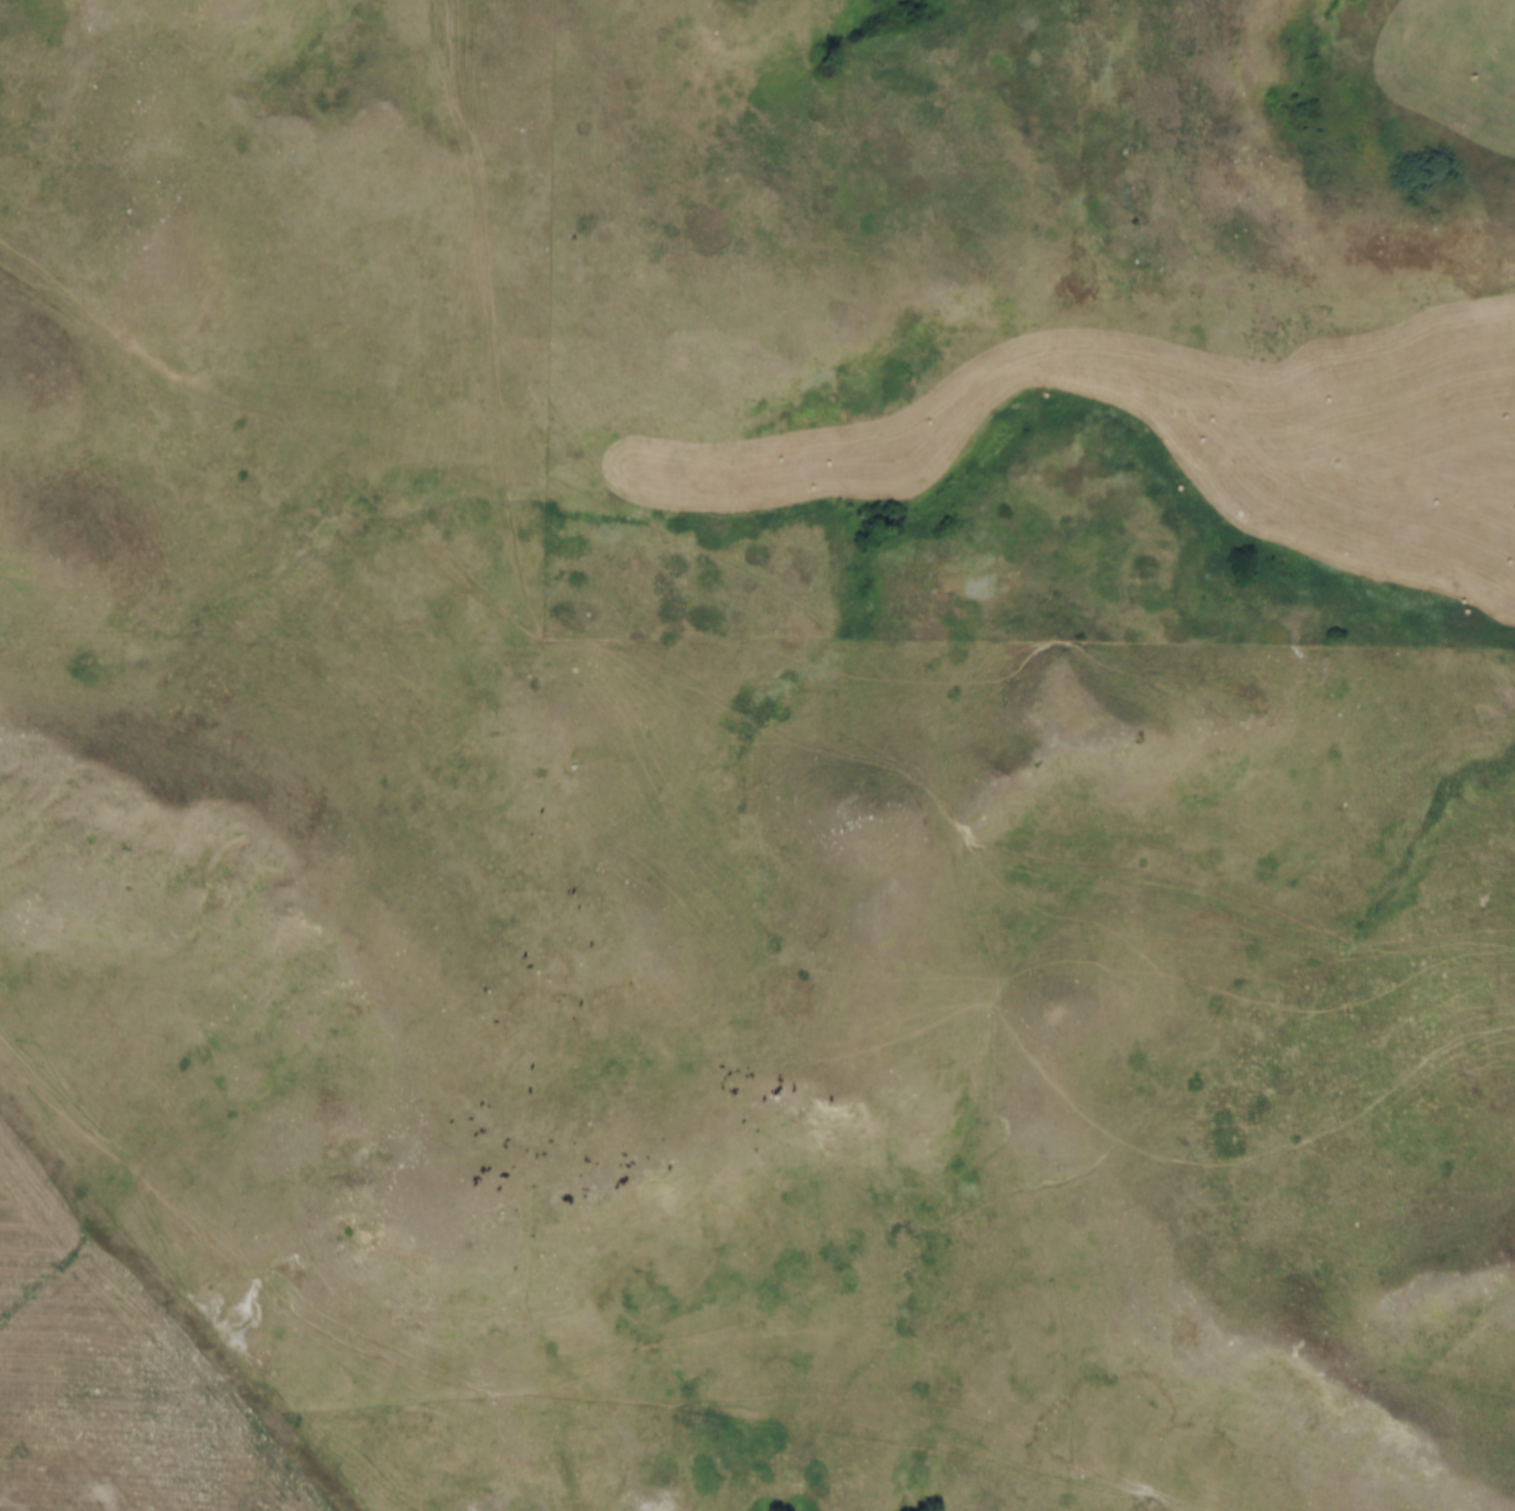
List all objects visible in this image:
road: (527, 623)
road: (1028, 942)
road: (1490, 946)
road: (1003, 1199)
road: (579, 1377)

